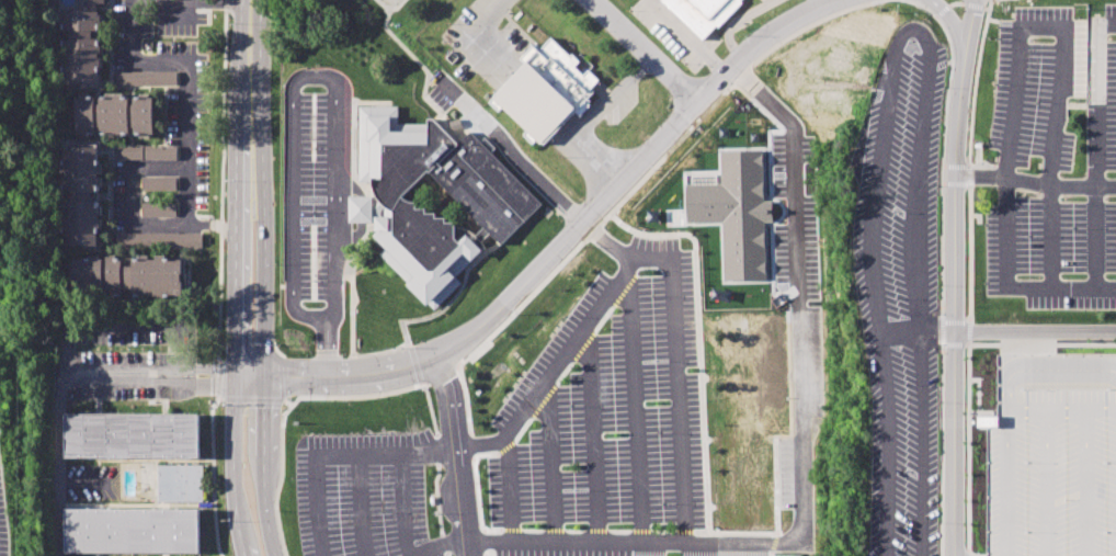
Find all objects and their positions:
parking lot: (390, 1)
road: (829, 1)
building: (702, 13)
road: (496, 14)
road: (734, 20)
road: (252, 24)
road: (786, 24)
road: (1047, 27)
road: (911, 29)
road: (687, 37)
building: (78, 47)
road: (647, 50)
road: (733, 66)
road: (727, 72)
building: (148, 77)
road: (307, 77)
building: (546, 89)
road: (1098, 98)
road: (187, 114)
building: (114, 117)
road: (591, 118)
road: (511, 150)
building: (148, 152)
parking lot: (1055, 159)
building: (79, 169)
road: (221, 181)
road: (1037, 181)
building: (160, 184)
road: (128, 195)
building: (159, 209)
building: (386, 209)
road: (587, 217)
building: (79, 223)
road: (1050, 237)
road: (1096, 237)
building: (159, 240)
road: (957, 276)
building: (126, 277)
parking lot: (902, 281)
road: (1004, 287)
road: (237, 302)
road: (267, 302)
road: (918, 328)
road: (1036, 330)
road: (797, 348)
road: (339, 368)
road: (197, 370)
traffic signals: (236, 370)
traffic signals: (269, 370)
road: (553, 372)
road: (102, 377)
road: (219, 379)
road: (197, 385)
traffic signals: (236, 386)
traffic signals: (269, 386)
road: (343, 387)
building: (129, 435)
road: (60, 445)
road: (335, 453)
building: (1052, 453)
parking garage: (1052, 453)
road: (457, 454)
road: (681, 458)
road: (213, 475)
building: (180, 484)
road: (510, 491)
road: (401, 503)
parking lot: (3, 517)
building: (130, 531)
road: (442, 546)

